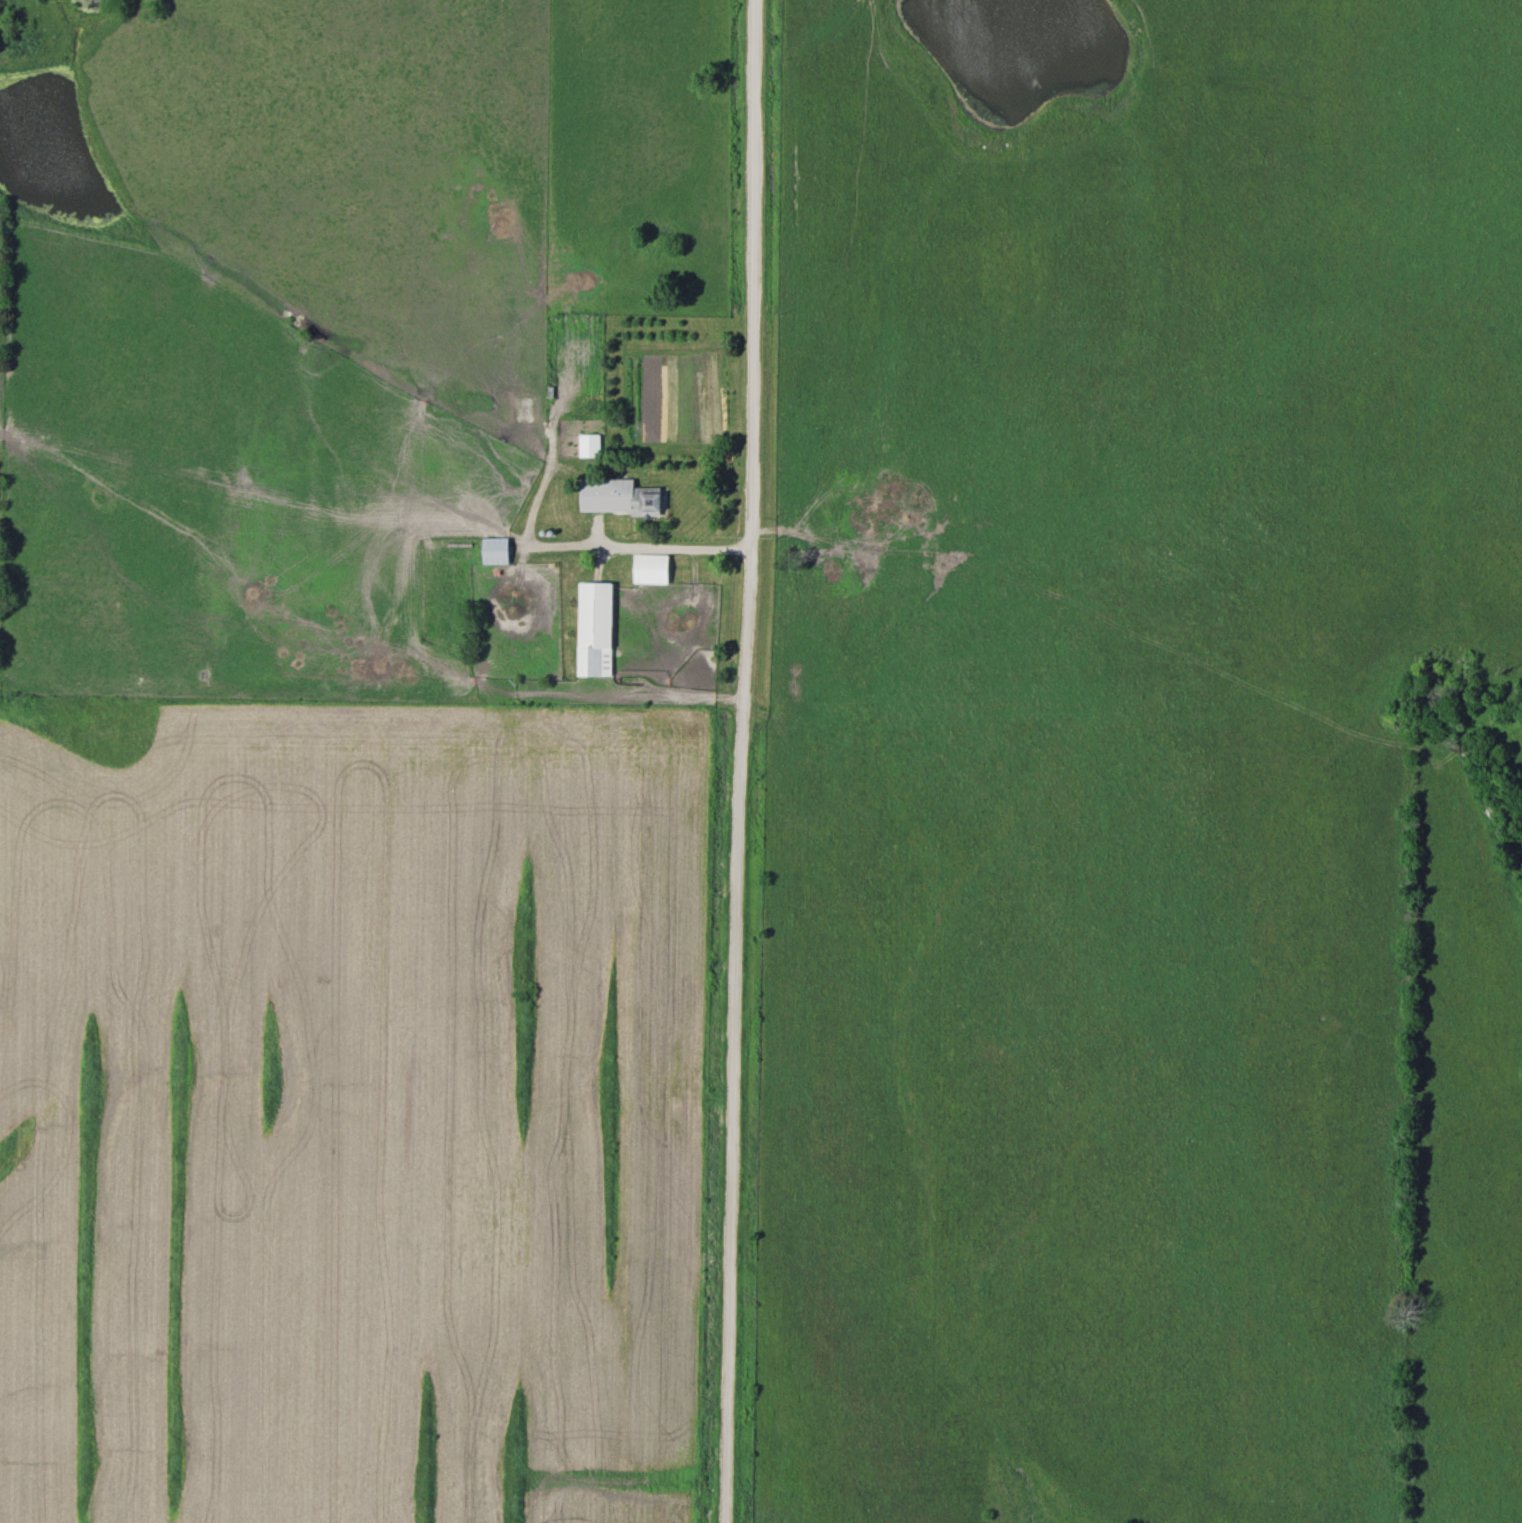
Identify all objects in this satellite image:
road: (692, 550)
road: (669, 694)
road: (740, 761)

